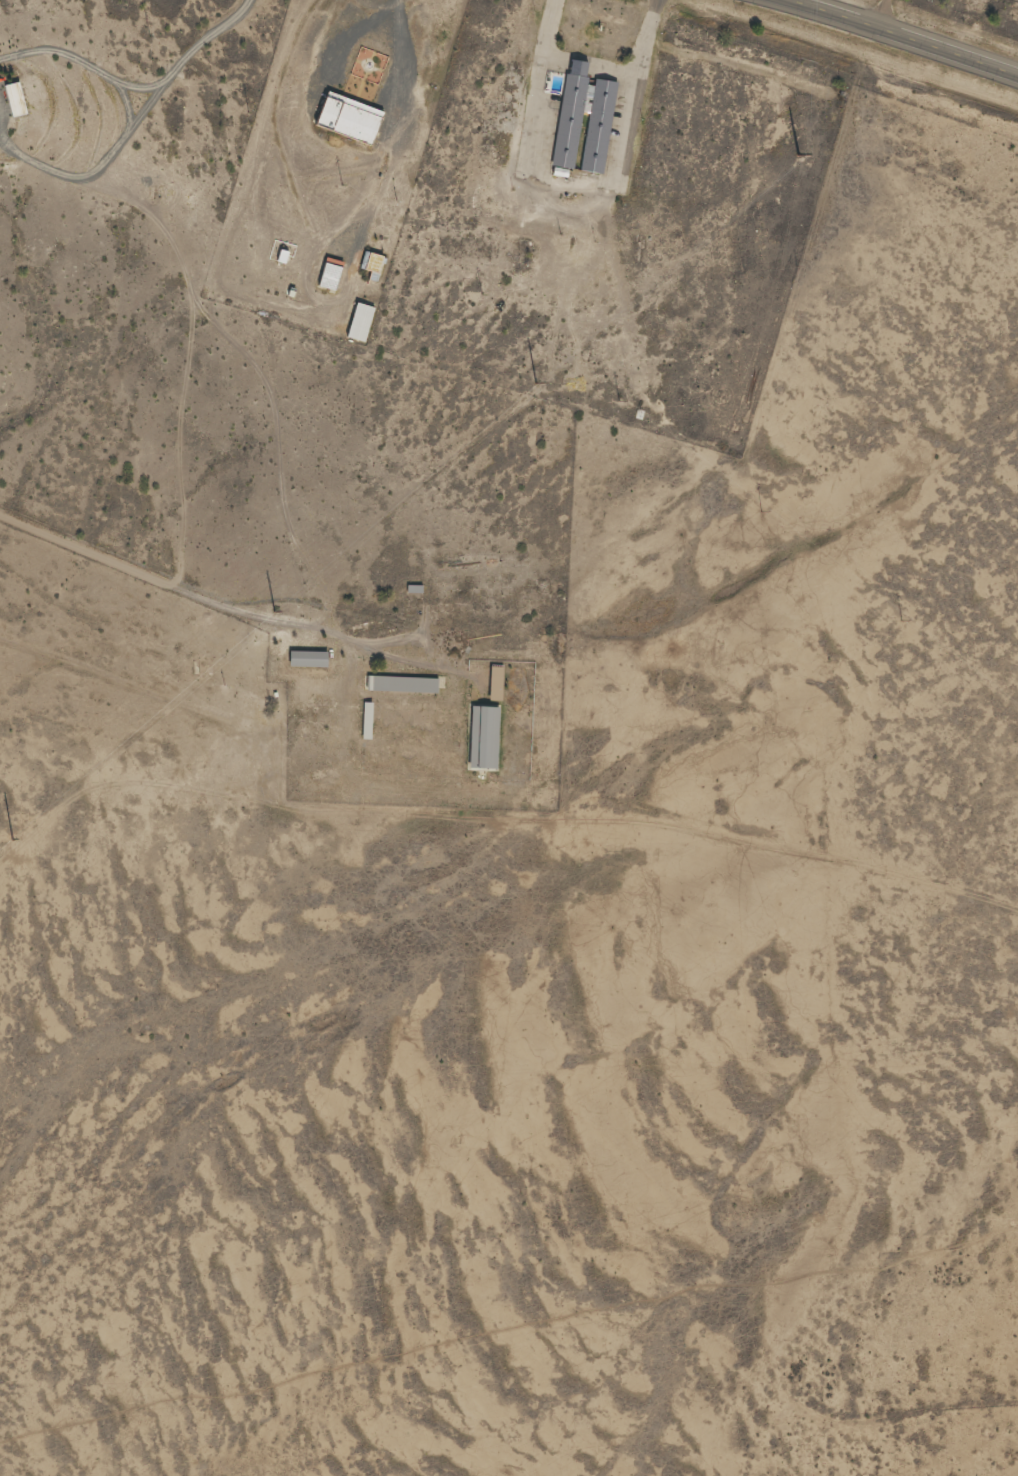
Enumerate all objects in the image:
road: (907, 37)
building: (368, 65)
building: (345, 116)
building: (563, 132)
power tower: (795, 155)
road: (65, 170)
building: (372, 263)
building: (328, 274)
building: (359, 322)
power tower: (534, 382)
road: (279, 440)
power tower: (272, 611)
building: (305, 659)
building: (494, 683)
building: (400, 684)
building: (366, 721)
building: (482, 738)
power tower: (10, 839)

